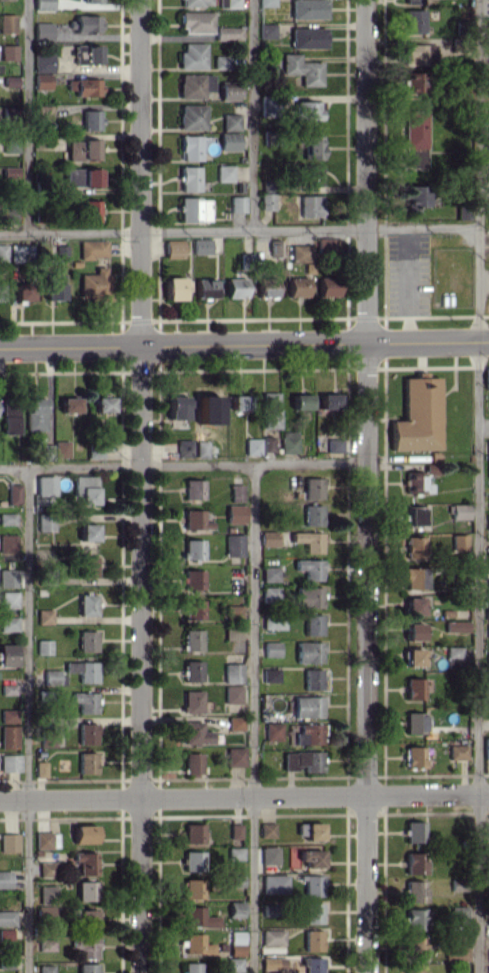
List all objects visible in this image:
building: (91, 0)
building: (413, 1)
building: (194, 2)
building: (266, 2)
building: (228, 3)
building: (42, 5)
building: (308, 9)
building: (195, 21)
building: (413, 21)
building: (7, 23)
building: (84, 23)
building: (266, 30)
building: (43, 31)
building: (227, 33)
building: (307, 37)
building: (8, 52)
building: (419, 53)
building: (86, 54)
building: (192, 56)
building: (221, 61)
building: (43, 62)
building: (302, 69)
building: (9, 81)
building: (42, 81)
building: (412, 81)
building: (194, 85)
building: (84, 86)
building: (487, 88)
building: (228, 92)
building: (307, 110)
building: (42, 111)
road: (252, 115)
road: (26, 116)
building: (191, 116)
building: (90, 119)
building: (230, 121)
building: (415, 137)
building: (228, 141)
building: (312, 146)
building: (189, 147)
building: (82, 149)
building: (8, 173)
building: (224, 173)
building: (310, 174)
building: (81, 176)
building: (189, 178)
building: (415, 196)
building: (266, 201)
building: (237, 204)
building: (310, 205)
building: (193, 209)
building: (89, 210)
road: (239, 231)
building: (201, 246)
building: (275, 247)
building: (92, 248)
building: (173, 248)
building: (61, 252)
building: (301, 252)
building: (19, 253)
building: (94, 284)
road: (405, 285)
building: (53, 286)
building: (265, 286)
building: (296, 286)
building: (327, 286)
building: (235, 287)
building: (174, 288)
building: (204, 288)
building: (22, 290)
building: (0, 293)
road: (244, 343)
building: (486, 378)
building: (328, 400)
building: (300, 401)
building: (238, 402)
building: (68, 404)
building: (102, 404)
building: (175, 405)
building: (206, 409)
building: (268, 410)
building: (34, 414)
building: (417, 415)
building: (9, 418)
building: (288, 442)
building: (487, 445)
building: (251, 446)
building: (333, 446)
building: (183, 447)
building: (60, 448)
building: (200, 448)
road: (182, 465)
building: (414, 482)
road: (140, 486)
road: (364, 486)
road: (477, 486)
building: (312, 487)
building: (84, 488)
building: (192, 488)
building: (235, 492)
building: (12, 494)
building: (488, 502)
building: (458, 511)
building: (234, 513)
building: (311, 514)
building: (413, 516)
building: (7, 518)
building: (194, 519)
building: (44, 521)
building: (487, 521)
building: (87, 532)
building: (267, 538)
building: (308, 540)
building: (458, 541)
building: (7, 543)
building: (233, 544)
building: (414, 546)
building: (191, 548)
building: (487, 556)
building: (87, 566)
building: (309, 568)
building: (269, 573)
building: (8, 577)
building: (412, 577)
building: (192, 579)
building: (487, 585)
building: (269, 594)
building: (308, 596)
building: (8, 599)
building: (86, 604)
building: (412, 605)
building: (193, 609)
building: (486, 613)
building: (43, 616)
building: (8, 623)
building: (273, 623)
building: (312, 624)
building: (456, 625)
building: (412, 631)
building: (487, 631)
building: (233, 632)
building: (191, 640)
building: (86, 641)
building: (43, 646)
building: (270, 648)
building: (308, 651)
building: (8, 655)
building: (413, 656)
building: (487, 657)
building: (82, 670)
building: (191, 670)
building: (232, 672)
building: (269, 675)
building: (53, 677)
building: (311, 679)
building: (488, 683)
building: (414, 688)
building: (232, 693)
building: (84, 701)
building: (191, 701)
building: (307, 706)
building: (7, 715)
road: (252, 718)
road: (26, 719)
building: (413, 722)
building: (233, 723)
building: (272, 731)
building: (86, 733)
building: (194, 733)
building: (308, 733)
building: (8, 736)
building: (486, 747)
building: (457, 751)
building: (234, 756)
building: (413, 756)
building: (301, 760)
building: (9, 762)
building: (86, 762)
building: (191, 763)
road: (244, 795)
building: (266, 829)
building: (234, 830)
building: (312, 831)
building: (414, 831)
building: (83, 833)
building: (192, 833)
building: (45, 839)
building: (8, 842)
building: (268, 855)
building: (310, 857)
building: (192, 860)
building: (84, 862)
building: (413, 862)
building: (46, 869)
building: (4, 878)
building: (274, 883)
building: (311, 885)
building: (192, 888)
building: (85, 890)
building: (414, 890)
building: (46, 894)
building: (235, 909)
building: (311, 912)
building: (458, 914)
building: (85, 917)
building: (197, 917)
building: (6, 918)
building: (413, 919)
building: (488, 926)
building: (272, 936)
building: (312, 939)
building: (236, 943)
building: (45, 944)
building: (195, 944)
building: (86, 946)
building: (413, 946)
building: (459, 951)
building: (488, 955)
building: (272, 962)
building: (233, 964)
building: (311, 964)
building: (191, 967)
building: (45, 968)
building: (86, 968)
building: (488, 969)

